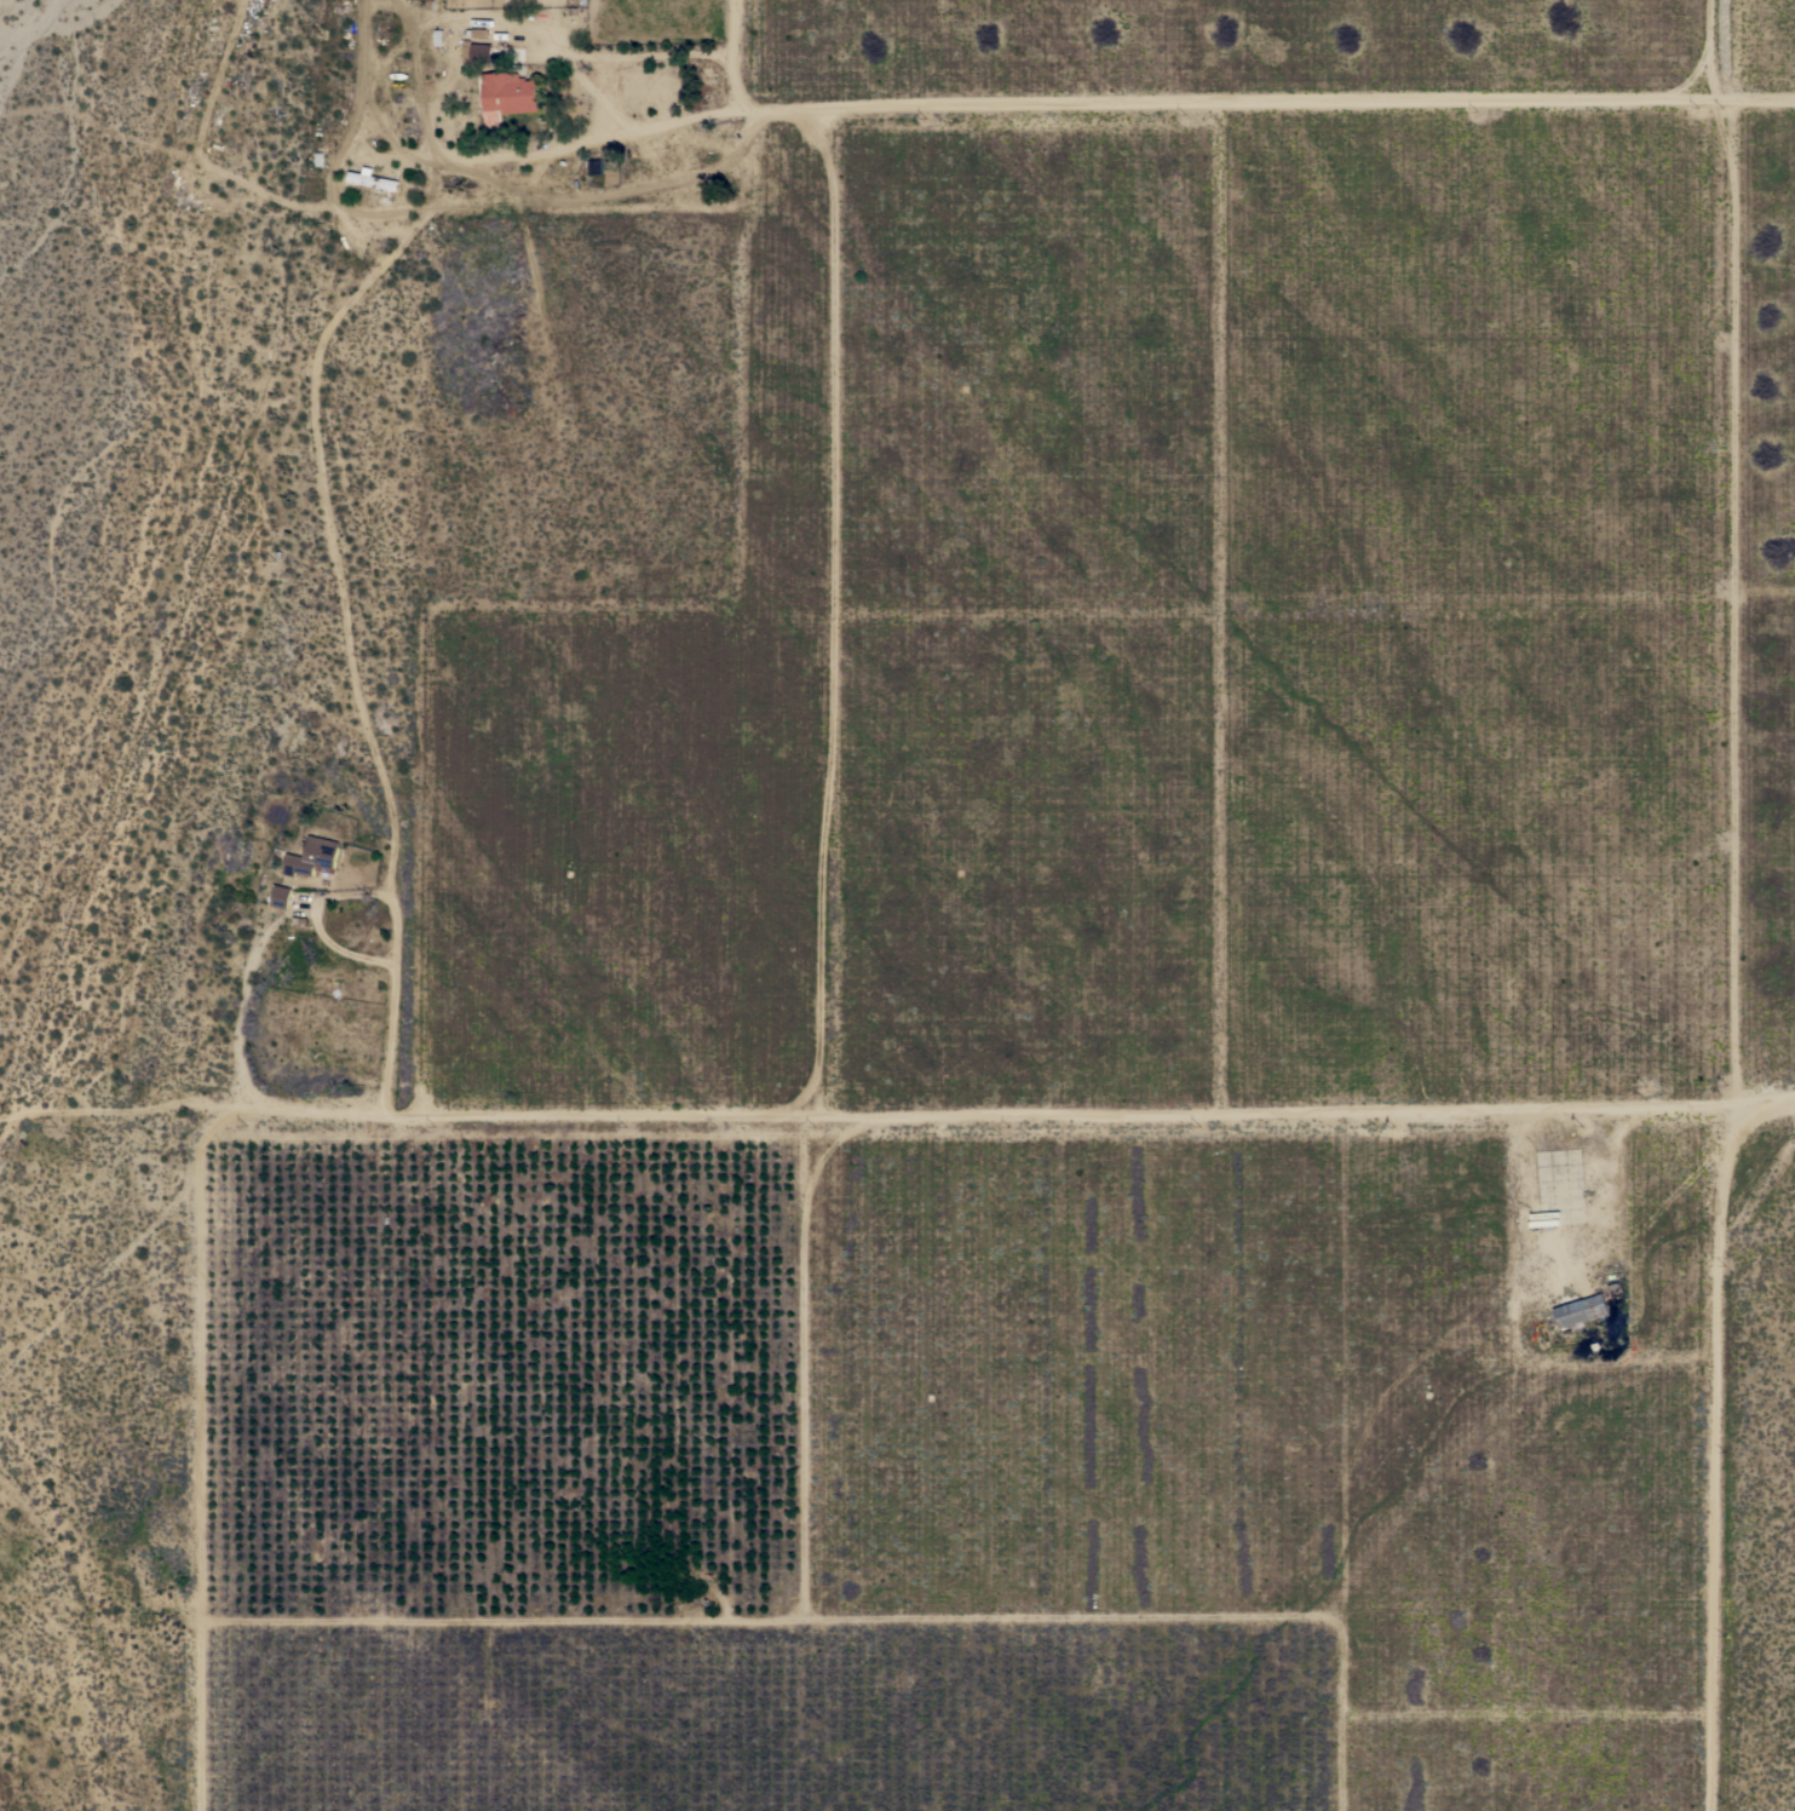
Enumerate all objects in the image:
road: (747, 50)
road: (1721, 50)
building: (477, 53)
building: (508, 93)
road: (1271, 99)
building: (374, 182)
road: (322, 473)
building: (312, 856)
building: (281, 896)
road: (254, 956)
crop: (1139, 1004)
road: (1011, 1120)
building: (1581, 1310)

